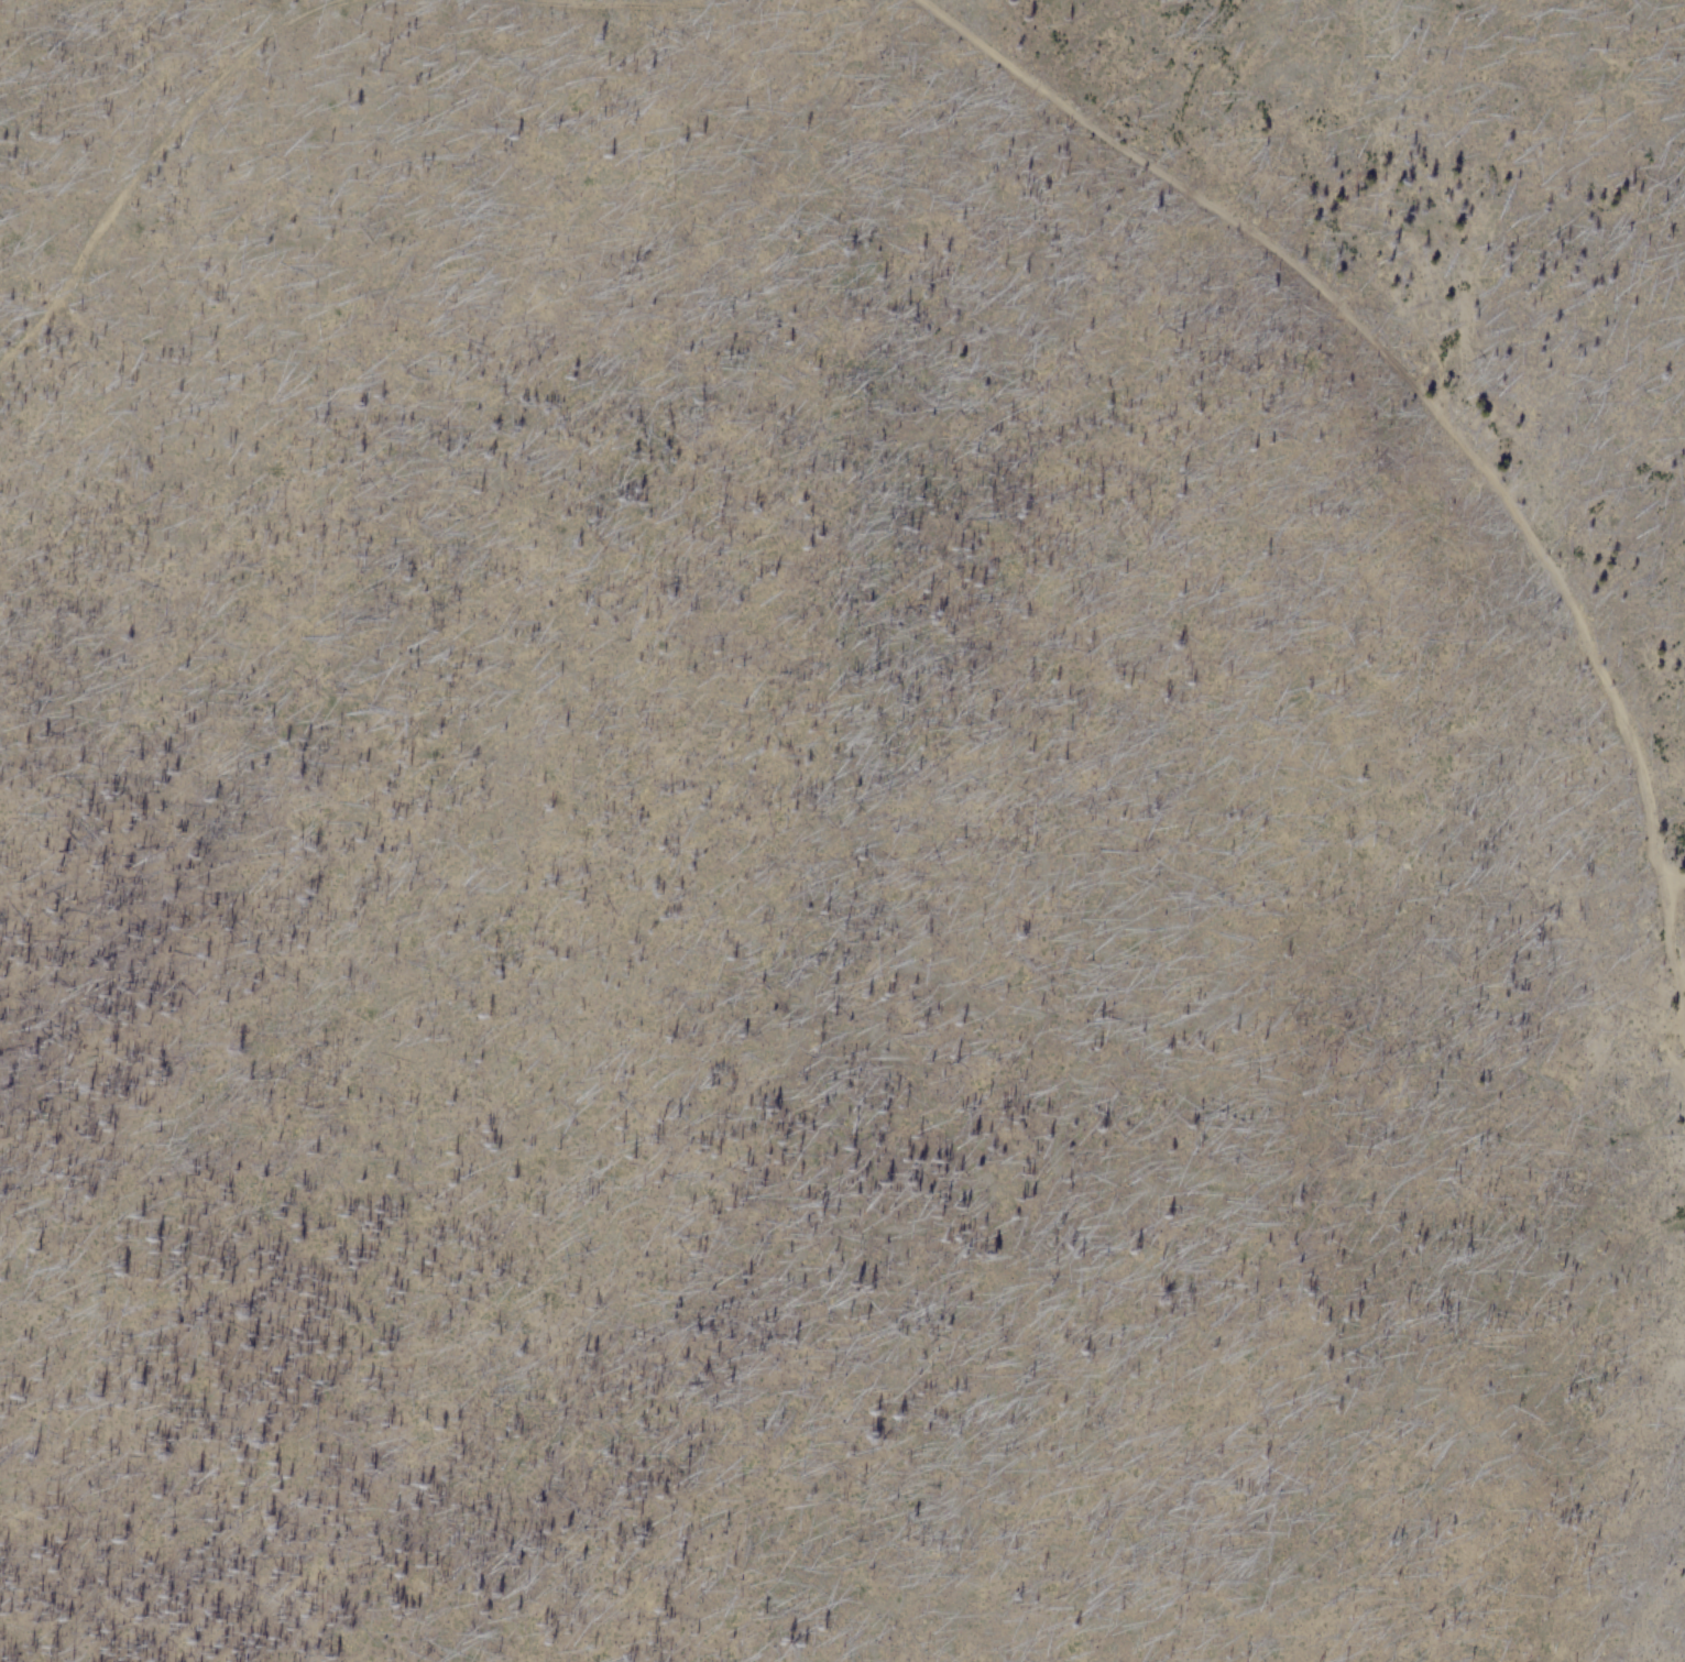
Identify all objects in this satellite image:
road: (641, 3)
road: (149, 160)
road: (1443, 425)
road: (1672, 883)

